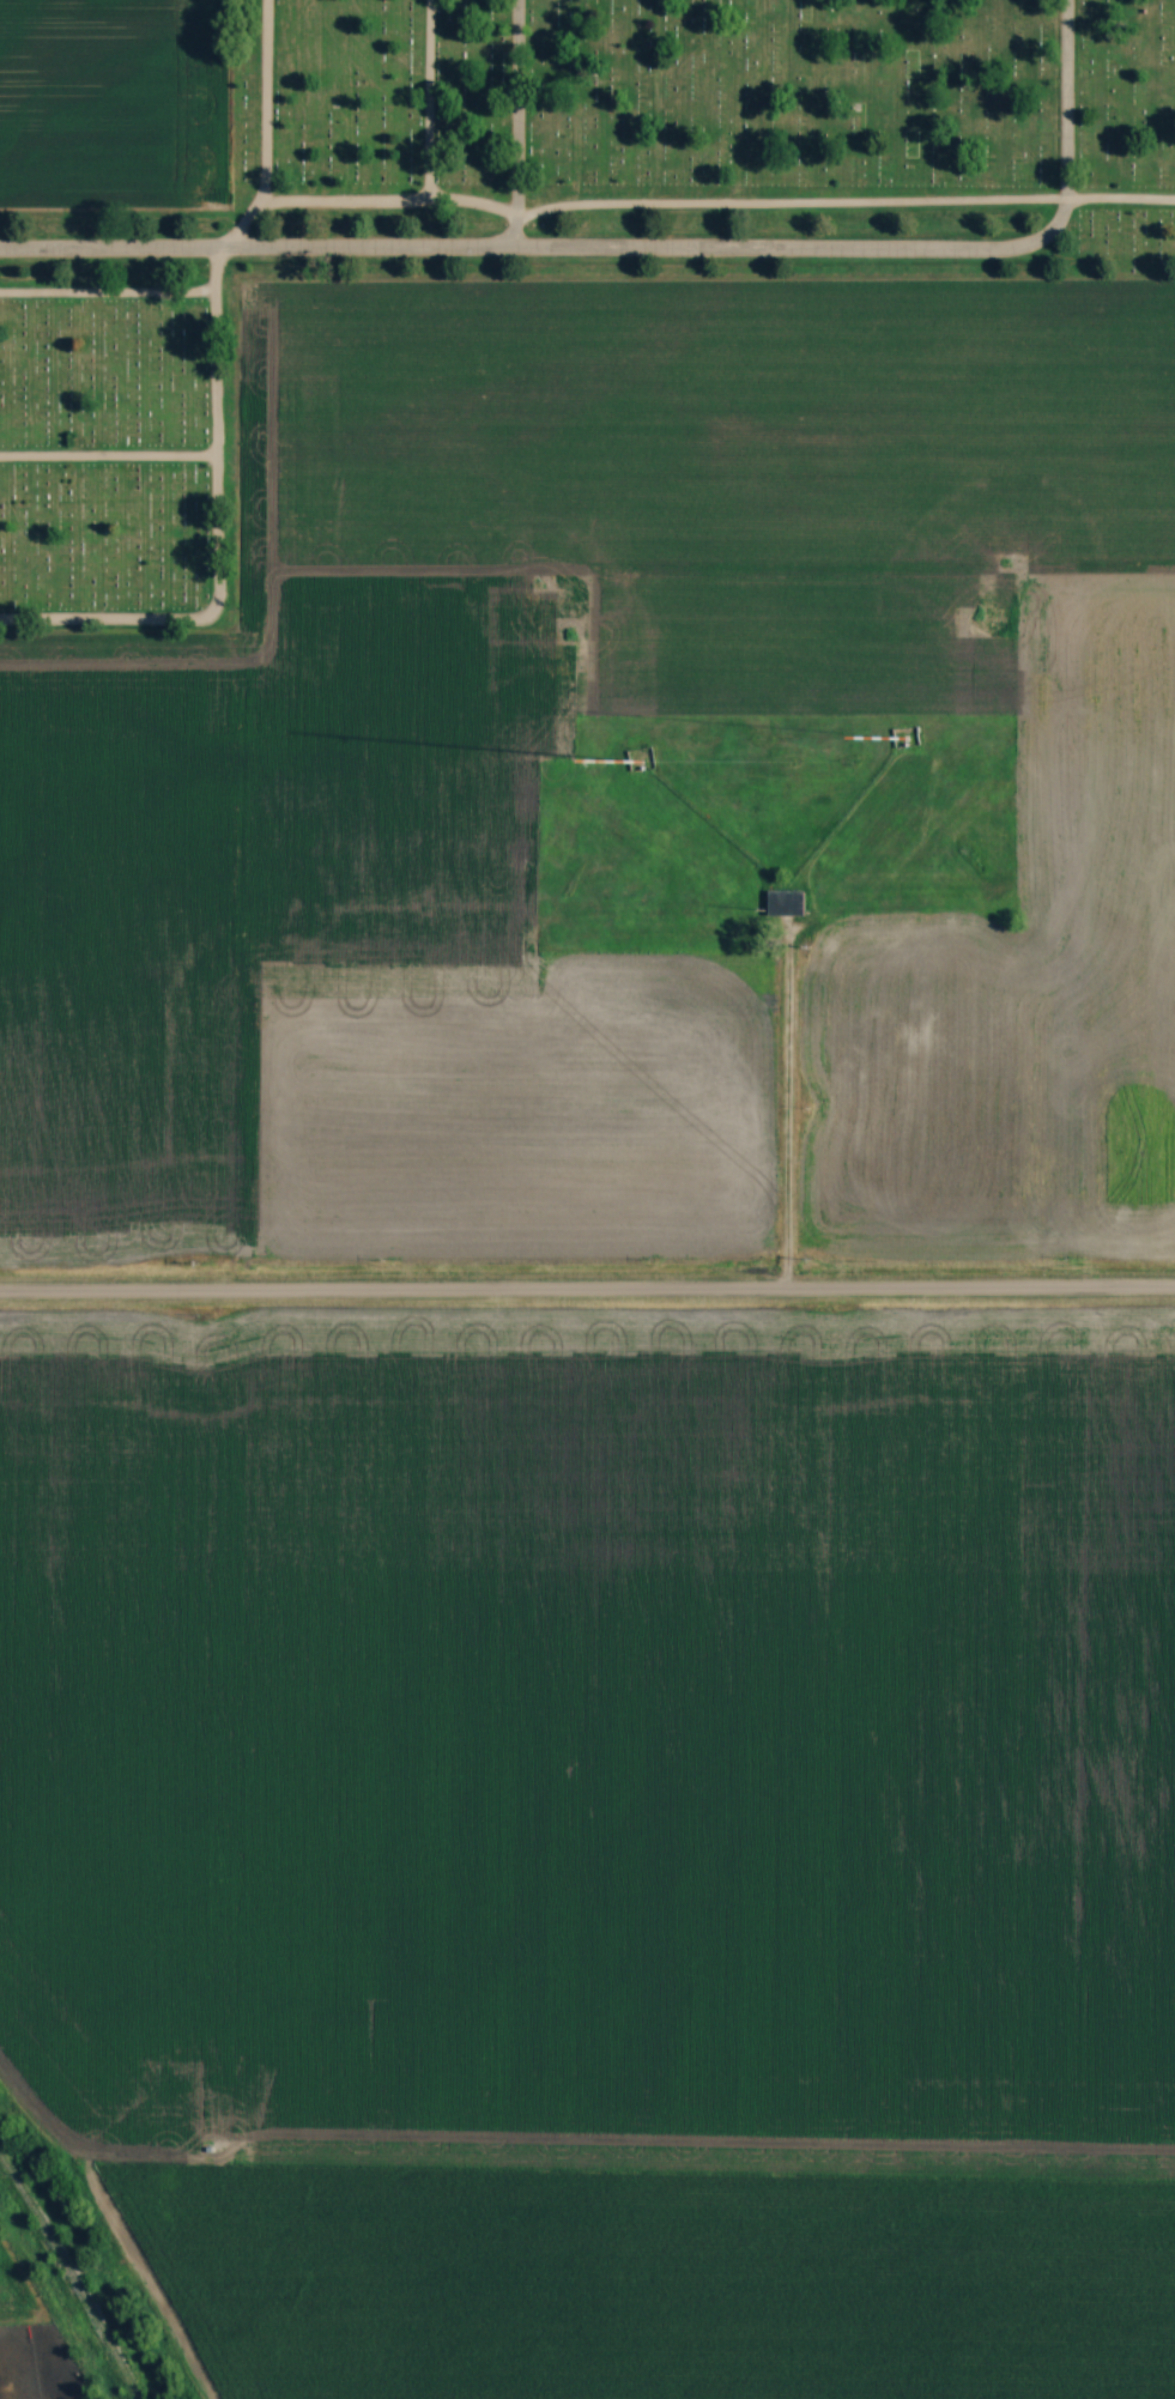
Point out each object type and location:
road: (425, 98)
road: (511, 128)
park: (696, 140)
road: (717, 211)
road: (141, 246)
road: (755, 258)
road: (107, 290)
road: (108, 453)
park: (109, 461)
road: (217, 538)
building: (643, 757)
building: (786, 902)
road: (787, 1111)
road: (587, 1289)
railway: (74, 2273)

